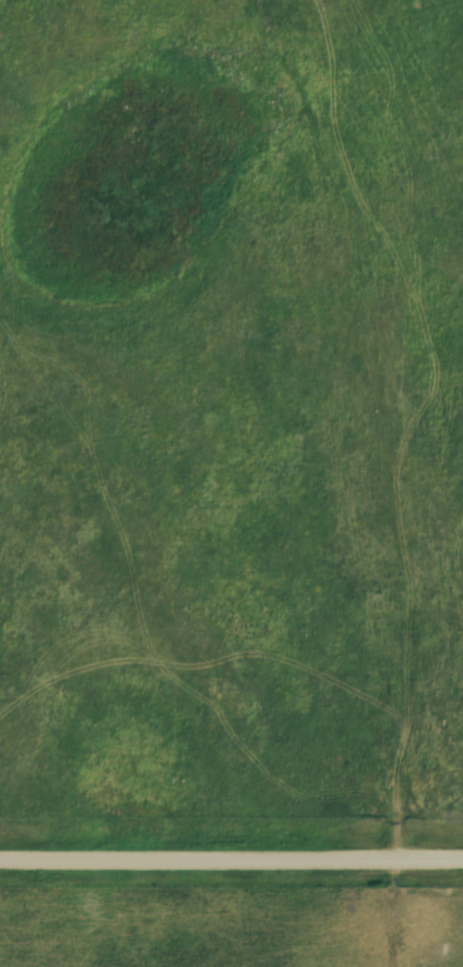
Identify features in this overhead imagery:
road: (231, 860)

